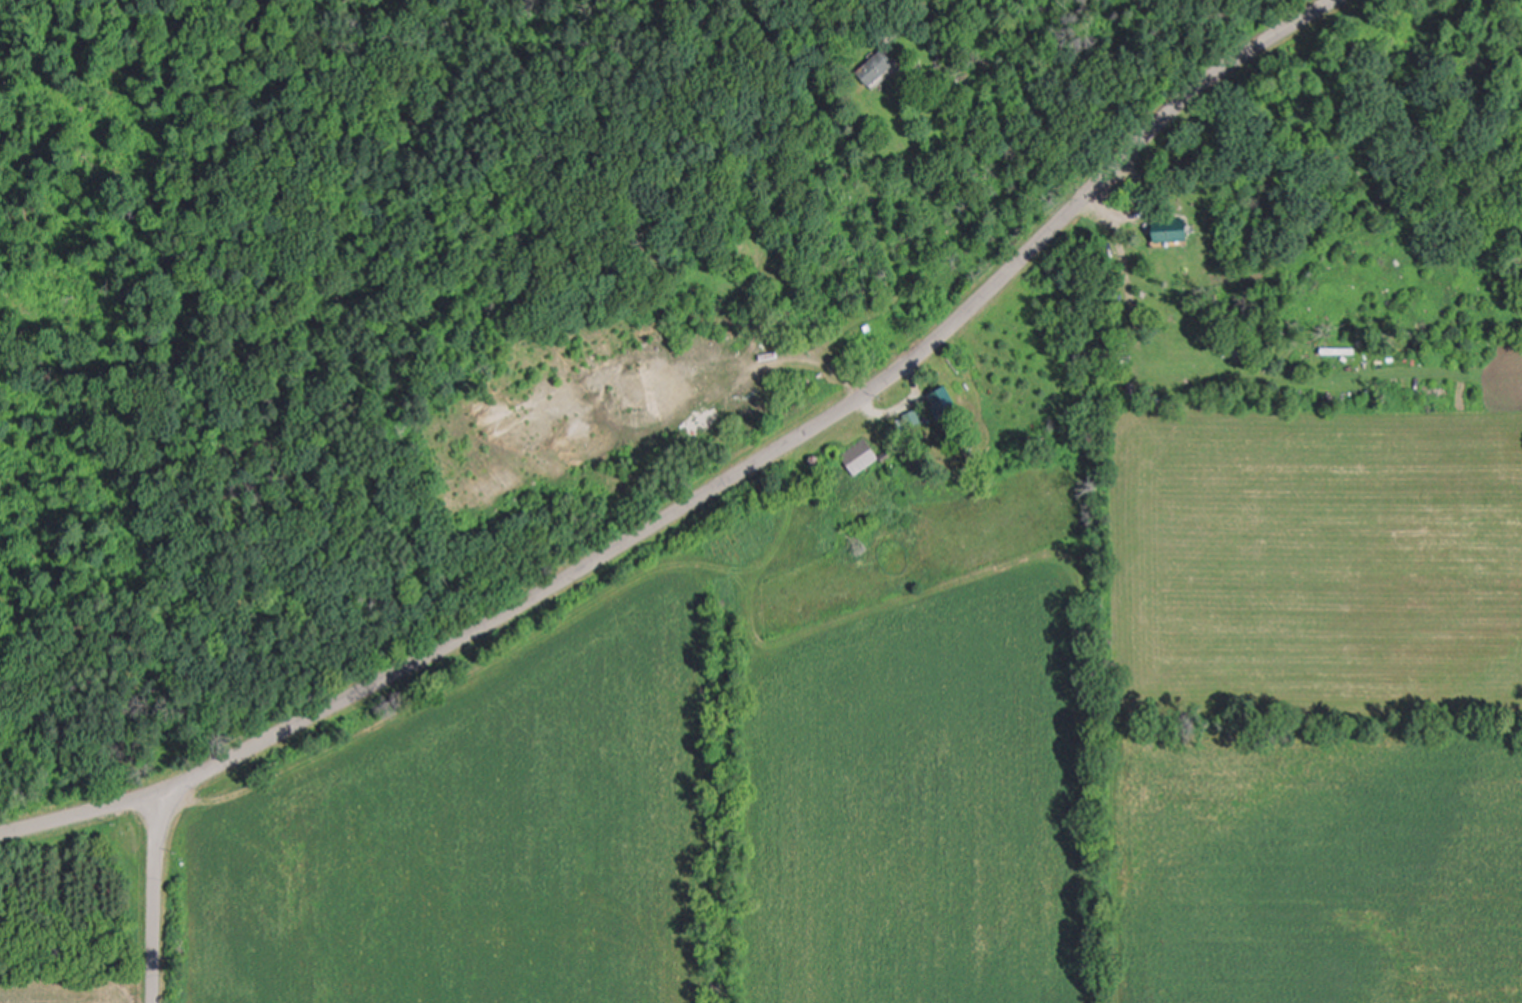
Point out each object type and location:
building: (879, 68)
building: (1176, 230)
building: (945, 401)
road: (780, 447)
building: (860, 458)
road: (78, 815)
road: (151, 899)

